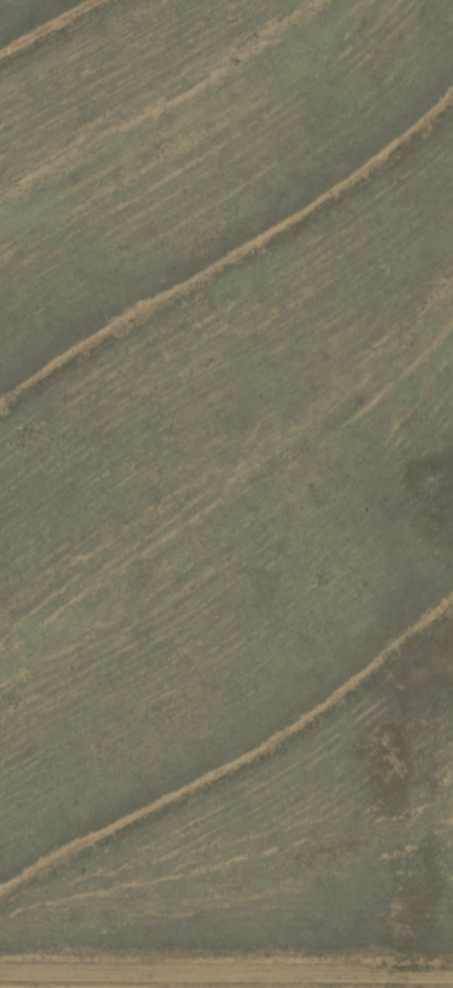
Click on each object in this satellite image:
road: (226, 959)

